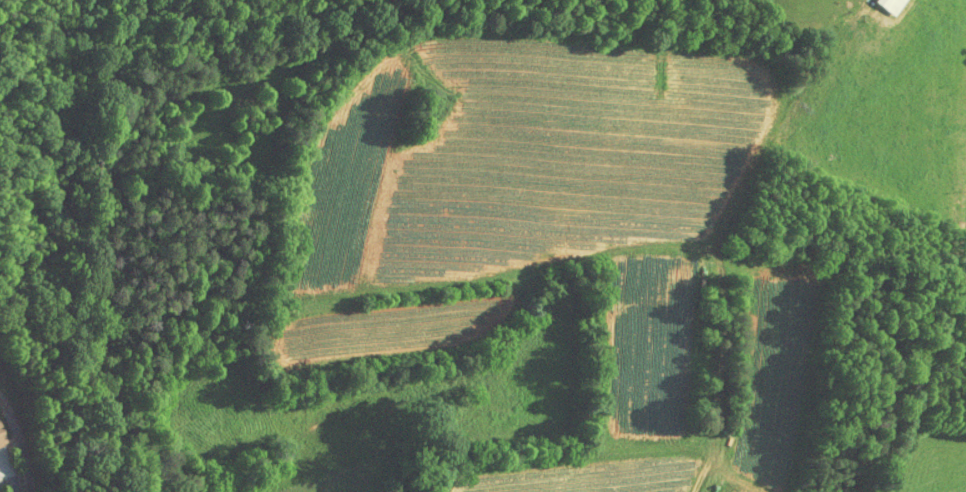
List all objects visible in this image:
building: (880, 3)
road: (724, 375)
road: (8, 485)

